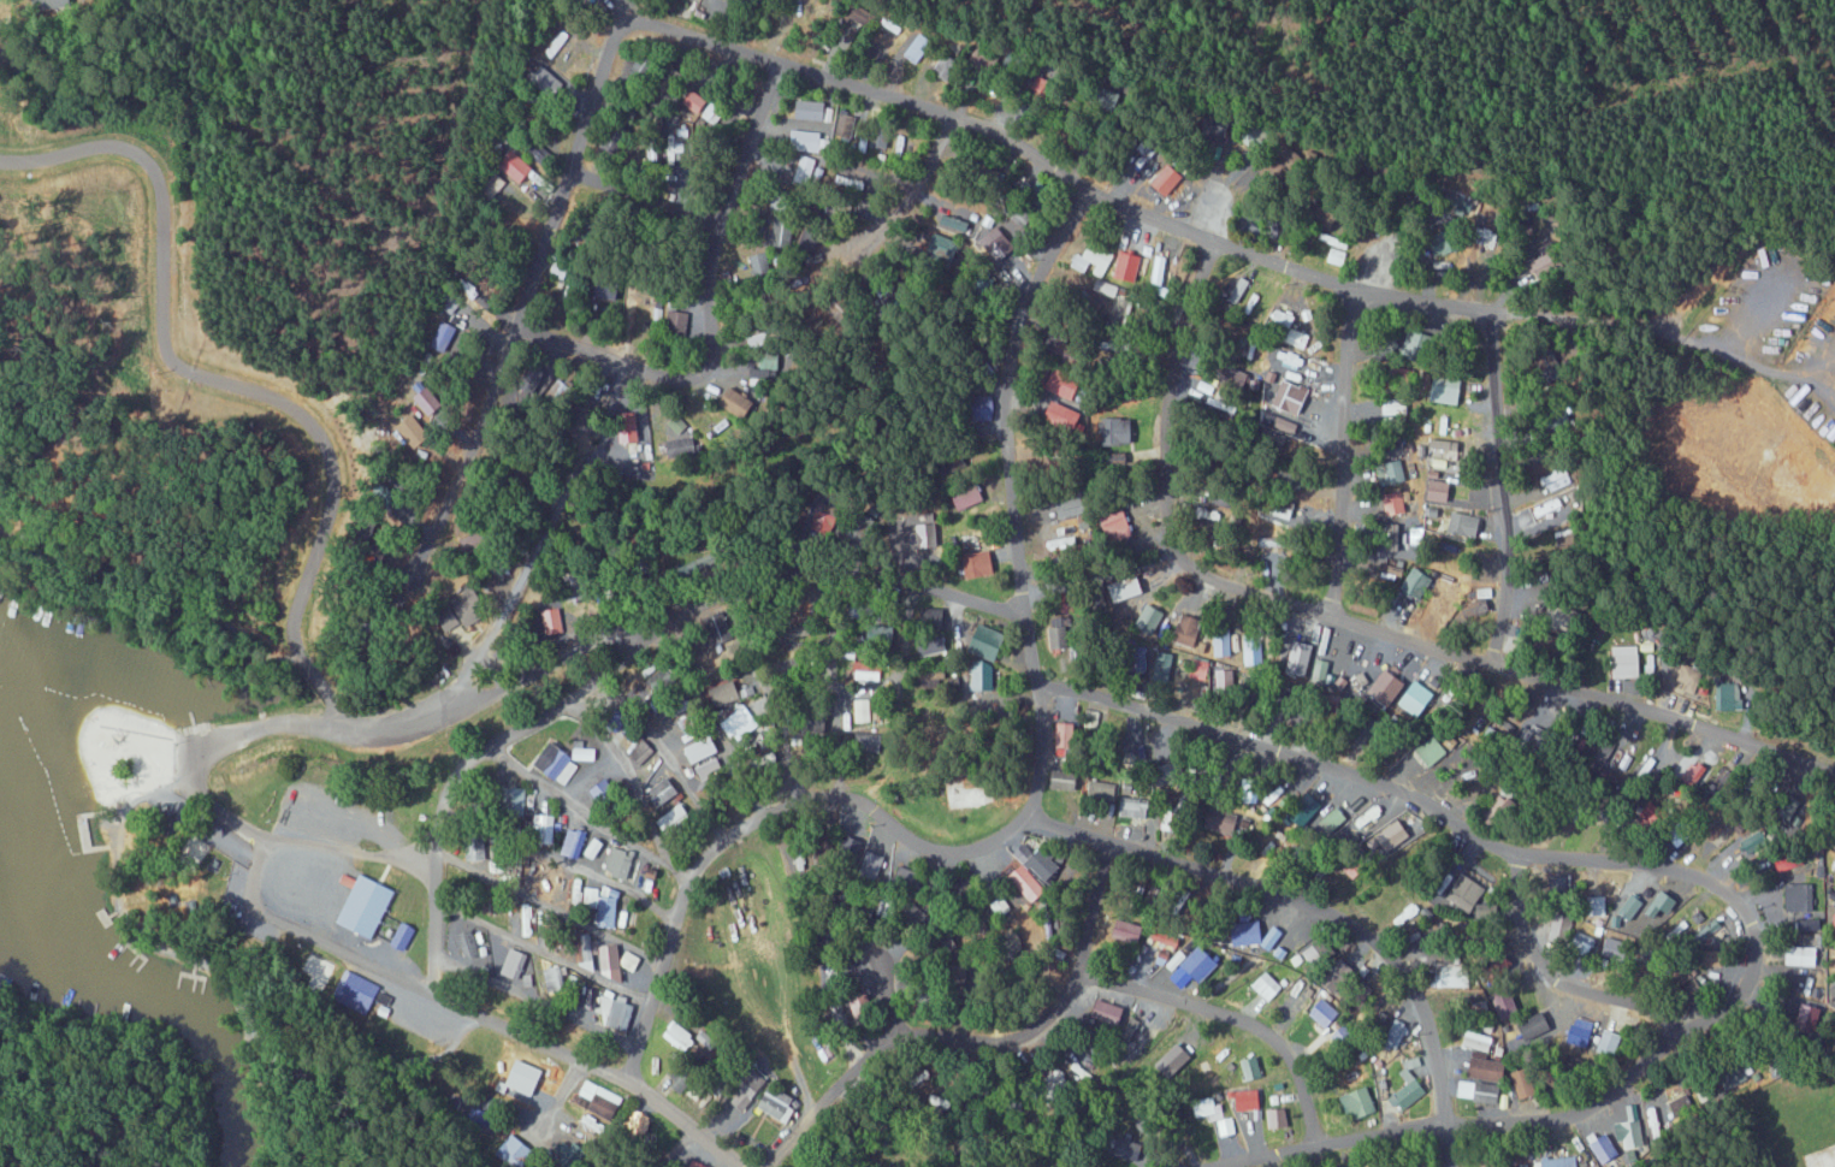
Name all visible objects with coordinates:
building: (49, 4)
building: (916, 47)
building: (943, 66)
building: (693, 100)
road: (925, 107)
building: (811, 109)
building: (714, 111)
building: (845, 125)
building: (880, 134)
building: (809, 141)
building: (679, 144)
building: (649, 150)
building: (519, 165)
building: (803, 168)
building: (1168, 178)
road: (912, 188)
road: (638, 212)
building: (781, 231)
building: (995, 238)
building: (1334, 248)
building: (1093, 259)
building: (1546, 263)
building: (759, 265)
building: (1127, 266)
building: (560, 269)
building: (1158, 269)
building: (1239, 290)
building: (1114, 300)
road: (709, 313)
building: (1284, 318)
building: (676, 319)
building: (445, 336)
building: (1300, 340)
building: (1423, 344)
building: (1078, 356)
building: (768, 359)
building: (758, 372)
building: (1066, 384)
road: (1007, 389)
building: (1448, 389)
building: (560, 391)
building: (1292, 397)
building: (430, 399)
building: (1221, 401)
building: (739, 403)
building: (1396, 407)
building: (1066, 415)
building: (676, 423)
building: (1443, 425)
building: (416, 431)
building: (1307, 434)
building: (1117, 438)
building: (680, 446)
building: (627, 448)
building: (1443, 449)
road: (1339, 451)
building: (1393, 470)
road: (333, 490)
building: (1437, 490)
building: (969, 494)
building: (1396, 503)
building: (1072, 507)
building: (1545, 507)
building: (1464, 523)
building: (927, 532)
building: (1061, 539)
building: (1266, 540)
building: (1564, 540)
building: (979, 563)
building: (1416, 581)
building: (1127, 587)
building: (579, 588)
building: (468, 608)
building: (1562, 615)
building: (1149, 618)
building: (554, 620)
road: (1344, 622)
building: (720, 627)
building: (1186, 629)
building: (1059, 636)
building: (989, 641)
building: (1221, 642)
road: (999, 644)
building: (930, 647)
building: (1253, 648)
building: (1301, 657)
road: (625, 660)
road: (959, 660)
building: (1162, 662)
building: (1626, 662)
building: (1197, 669)
building: (1687, 676)
building: (659, 680)
building: (987, 680)
road: (833, 681)
building: (1226, 681)
building: (1387, 687)
road: (899, 689)
building: (733, 691)
road: (760, 695)
building: (1416, 698)
building: (1090, 718)
building: (689, 722)
building: (740, 723)
building: (1497, 730)
building: (1066, 735)
building: (703, 750)
building: (1431, 751)
building: (585, 752)
building: (644, 754)
road: (664, 756)
building: (558, 763)
building: (709, 769)
road: (635, 774)
building: (1066, 780)
building: (1107, 787)
building: (602, 788)
building: (663, 790)
road: (848, 793)
building: (516, 799)
building: (1135, 808)
building: (1503, 808)
road: (585, 811)
building: (677, 819)
building: (1223, 821)
building: (543, 823)
road: (1467, 823)
building: (1395, 836)
building: (575, 843)
building: (1024, 853)
road: (555, 855)
building: (498, 858)
building: (620, 861)
building: (874, 863)
building: (1044, 865)
building: (543, 878)
building: (1028, 883)
building: (1463, 893)
road: (1294, 895)
building: (591, 896)
building: (1800, 898)
road: (547, 902)
building: (1664, 905)
building: (366, 906)
building: (609, 906)
building: (1632, 906)
building: (1409, 916)
building: (622, 918)
building: (526, 919)
building: (1809, 925)
building: (1558, 928)
building: (1130, 931)
building: (1705, 932)
building: (403, 935)
building: (554, 935)
building: (1166, 938)
building: (467, 944)
building: (1614, 946)
road: (539, 947)
building: (1319, 953)
building: (584, 954)
building: (1799, 955)
building: (615, 961)
building: (1198, 962)
road: (1553, 962)
building: (319, 970)
building: (516, 972)
building: (1457, 975)
building: (554, 978)
building: (1803, 985)
building: (1265, 987)
building: (357, 991)
road: (876, 997)
road: (529, 999)
building: (1623, 1001)
building: (1504, 1002)
building: (1107, 1013)
building: (1324, 1013)
building: (1815, 1013)
building: (585, 1015)
road: (1230, 1018)
building: (1534, 1025)
building: (1342, 1035)
building: (680, 1036)
road: (977, 1038)
building: (709, 1039)
building: (1478, 1041)
building: (1605, 1041)
road: (598, 1064)
building: (1251, 1068)
building: (1490, 1070)
building: (1081, 1072)
building: (516, 1074)
building: (681, 1079)
building: (1055, 1080)
building: (1527, 1083)
building: (1408, 1086)
road: (564, 1088)
building: (751, 1091)
building: (1479, 1091)
building: (1701, 1094)
building: (600, 1098)
building: (1247, 1100)
building: (1360, 1103)
building: (779, 1104)
building: (1681, 1104)
building: (1279, 1118)
building: (1648, 1118)
building: (640, 1121)
building: (1148, 1124)
building: (1225, 1126)
road: (1389, 1127)
building: (1629, 1133)
building: (1602, 1147)
building: (517, 1151)
road: (706, 1155)
building: (1142, 1156)
building: (1490, 1159)
building: (1561, 1161)
building: (702, 1165)

